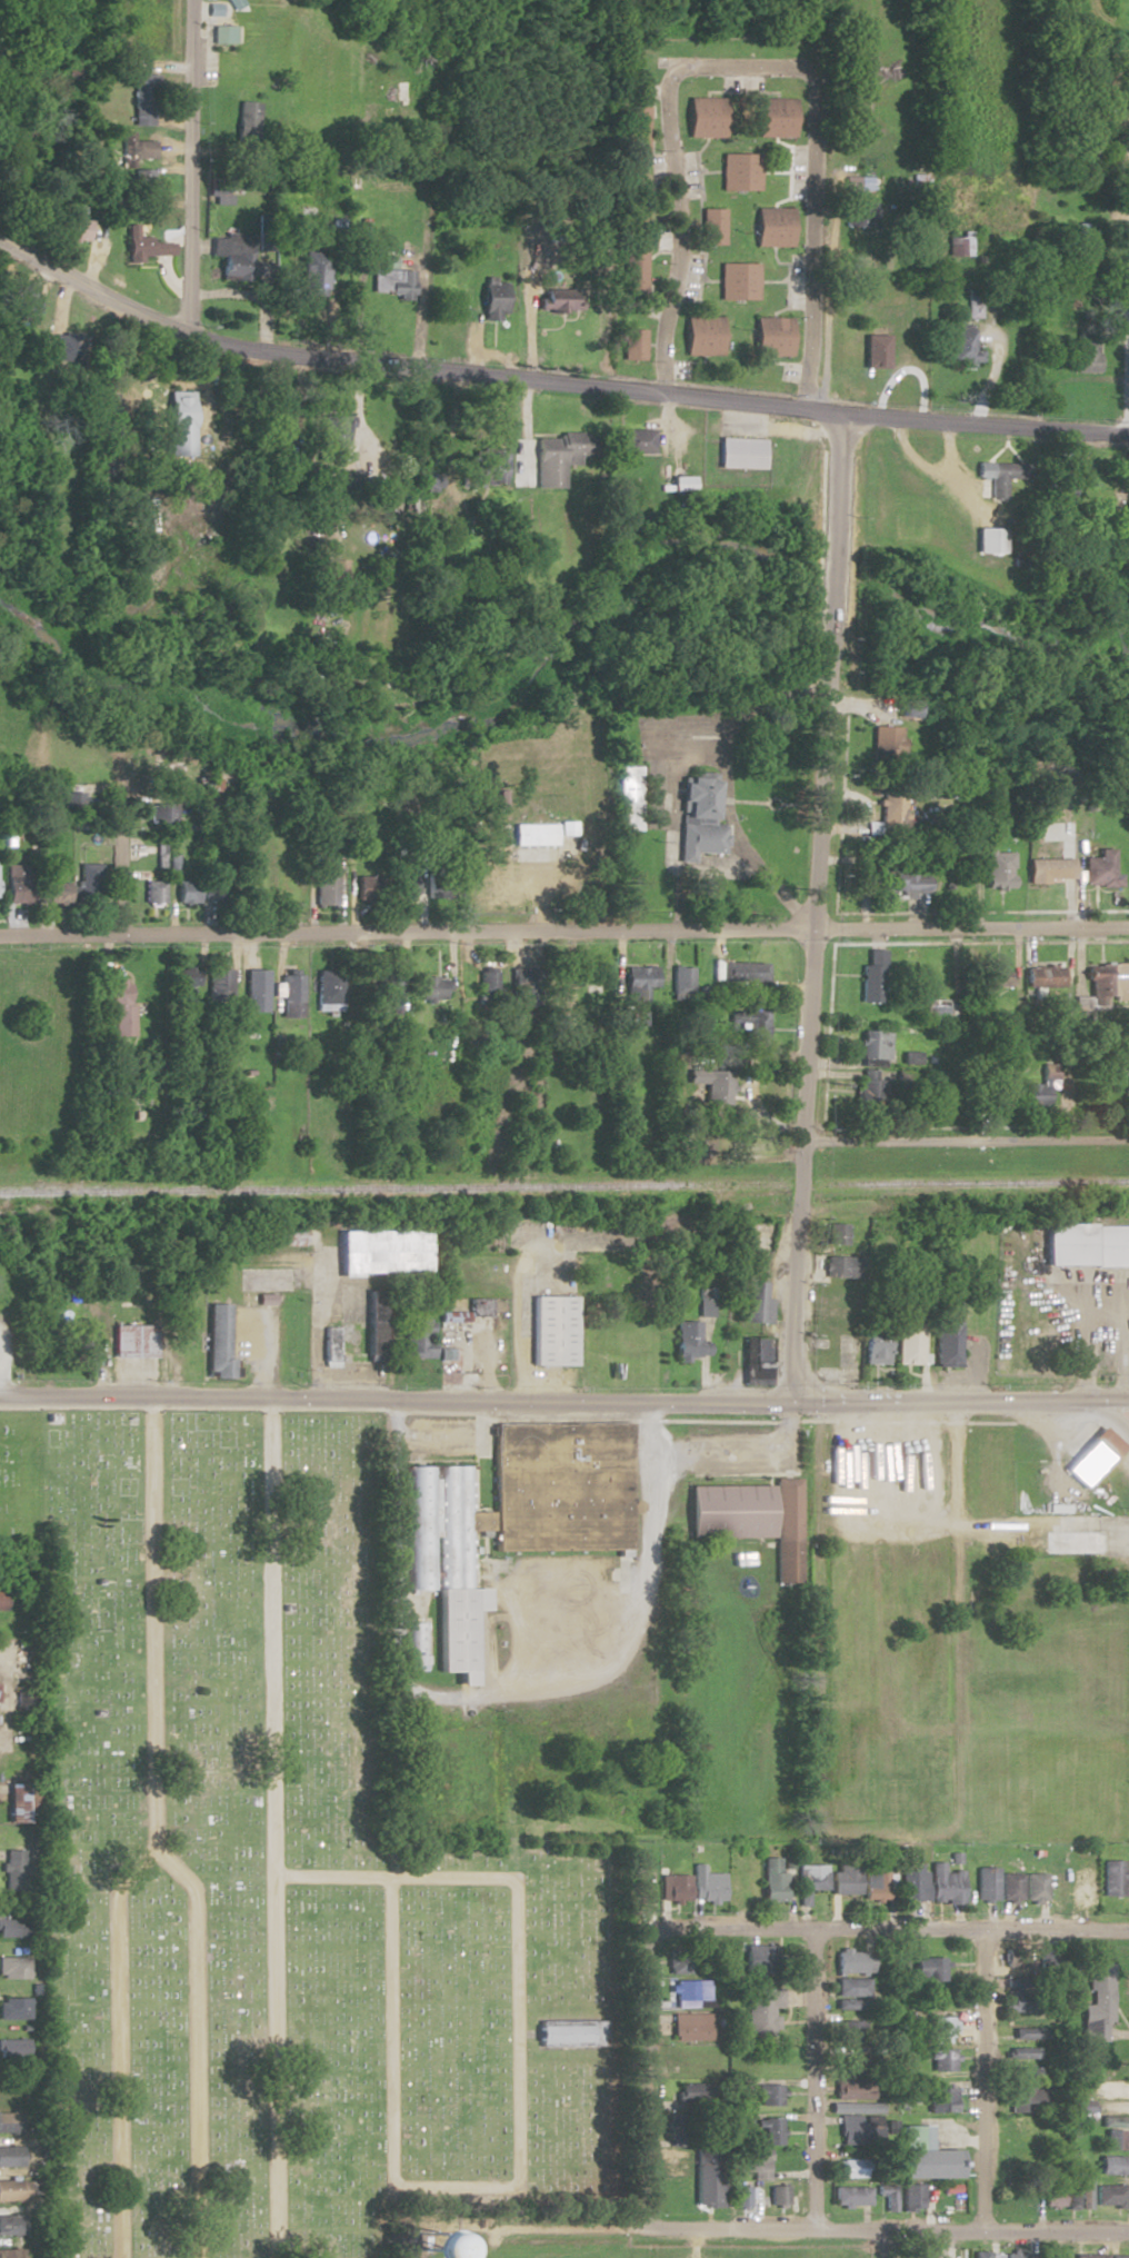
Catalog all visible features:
road: (748, 67)
building: (391, 92)
building: (142, 99)
building: (705, 117)
building: (773, 118)
building: (247, 120)
building: (635, 128)
building: (136, 147)
road: (191, 167)
building: (737, 171)
building: (142, 185)
building: (220, 195)
building: (633, 206)
building: (860, 213)
building: (712, 226)
building: (772, 226)
building: (76, 229)
building: (1079, 240)
building: (958, 245)
building: (143, 246)
road: (424, 248)
building: (233, 257)
building: (633, 270)
building: (313, 272)
building: (738, 280)
building: (392, 282)
building: (26, 302)
building: (973, 302)
building: (559, 307)
building: (492, 308)
building: (702, 336)
building: (771, 337)
building: (633, 344)
building: (961, 348)
building: (875, 351)
building: (1085, 356)
road: (991, 365)
road: (174, 378)
road: (552, 380)
road: (358, 391)
road: (1128, 404)
building: (179, 424)
building: (332, 435)
building: (631, 441)
building: (568, 446)
building: (741, 454)
building: (487, 467)
building: (999, 476)
building: (988, 540)
building: (170, 769)
building: (66, 802)
building: (887, 810)
building: (156, 815)
building: (625, 816)
building: (696, 817)
building: (531, 834)
road: (116, 869)
building: (993, 871)
building: (1046, 871)
building: (1097, 871)
building: (12, 884)
building: (83, 884)
building: (899, 884)
building: (320, 886)
building: (400, 887)
building: (360, 889)
building: (51, 893)
building: (148, 893)
building: (180, 893)
road: (811, 909)
road: (563, 931)
building: (737, 973)
building: (1040, 977)
building: (991, 978)
building: (180, 979)
building: (869, 981)
building: (678, 983)
building: (636, 984)
building: (214, 985)
building: (1106, 985)
building: (483, 987)
building: (429, 988)
building: (516, 988)
building: (250, 991)
building: (322, 991)
building: (388, 993)
building: (286, 996)
building: (114, 1008)
building: (935, 1011)
building: (747, 1024)
building: (871, 1045)
building: (1125, 1078)
building: (710, 1087)
building: (988, 1093)
building: (1035, 1094)
building: (866, 1096)
road: (962, 1140)
road: (398, 1174)
railway: (563, 1186)
building: (833, 1234)
building: (279, 1235)
building: (1085, 1245)
building: (378, 1253)
building: (838, 1267)
building: (258, 1280)
building: (242, 1299)
parking lot: (332, 1299)
building: (263, 1300)
building: (749, 1302)
building: (464, 1312)
building: (371, 1323)
building: (549, 1331)
building: (943, 1333)
building: (411, 1340)
building: (128, 1341)
building: (686, 1342)
building: (78, 1343)
parking lot: (253, 1343)
building: (326, 1343)
building: (214, 1344)
building: (906, 1344)
building: (872, 1346)
building: (442, 1354)
building: (753, 1363)
parking lot: (966, 1366)
road: (481, 1369)
road: (563, 1402)
road: (716, 1421)
parking lot: (437, 1438)
road: (453, 1438)
road: (737, 1451)
building: (1092, 1454)
building: (557, 1489)
building: (727, 1510)
building: (437, 1525)
building: (785, 1529)
building: (1073, 1542)
parking lot: (554, 1622)
building: (454, 1629)
building: (413, 1642)
road: (506, 1702)
building: (11, 1802)
road: (271, 1828)
road: (151, 1832)
building: (12, 1869)
park: (278, 1870)
road: (393, 1876)
building: (842, 1878)
building: (1110, 1878)
building: (770, 1879)
building: (910, 1881)
building: (985, 1882)
building: (943, 1883)
building: (705, 1884)
building: (808, 1884)
building: (872, 1886)
building: (1010, 1886)
building: (1035, 1887)
building: (673, 1888)
building: (1082, 1889)
building: (12, 1928)
road: (885, 1929)
building: (1047, 1958)
building: (756, 1959)
building: (677, 1960)
building: (1015, 1960)
building: (13, 1966)
building: (928, 1969)
building: (850, 1972)
building: (687, 1992)
building: (1015, 1993)
building: (1098, 2001)
building: (843, 2003)
building: (12, 2008)
building: (760, 2010)
building: (688, 2026)
building: (939, 2029)
building: (848, 2030)
building: (567, 2032)
building: (1025, 2032)
road: (516, 2035)
building: (1021, 2052)
building: (940, 2059)
building: (852, 2060)
road: (198, 2071)
road: (812, 2079)
road: (643, 2080)
road: (980, 2081)
building: (1108, 2088)
building: (850, 2089)
road: (389, 2091)
building: (768, 2095)
building: (1019, 2096)
building: (940, 2099)
building: (1077, 2106)
building: (1112, 2121)
building: (8, 2122)
building: (858, 2125)
building: (769, 2130)
building: (1021, 2132)
building: (1112, 2139)
building: (9, 2156)
building: (922, 2157)
building: (751, 2163)
building: (1110, 2165)
building: (851, 2167)
building: (706, 2177)
building: (12, 2190)
building: (1083, 2191)
building: (776, 2195)
building: (849, 2195)
building: (1051, 2195)
building: (1109, 2195)
building: (739, 2196)
building: (10, 2225)
road: (887, 2231)
road: (879, 2245)
water tower: (420, 2250)
building: (10, 2254)
building: (981, 2255)
building: (1015, 2255)
building: (1117, 2256)
building: (1093, 2257)

